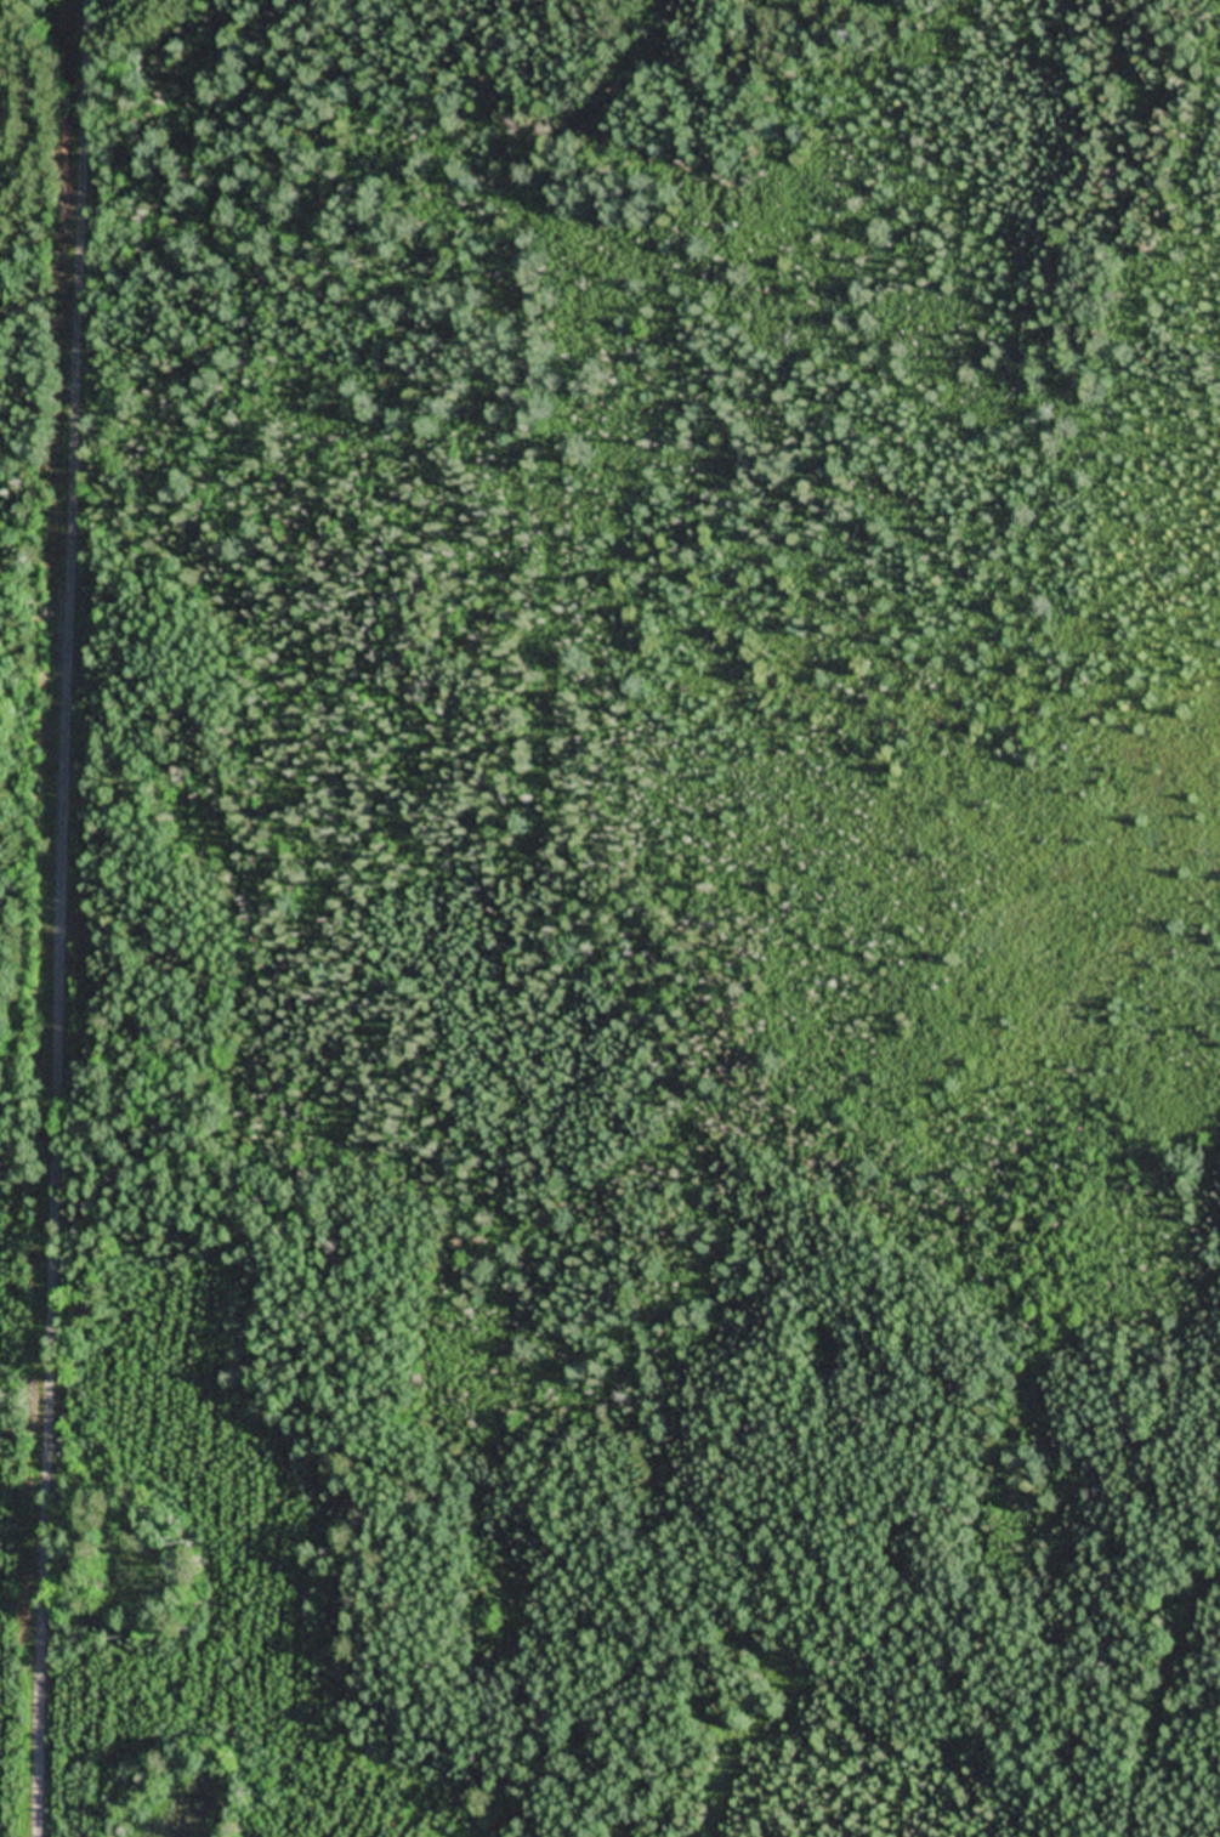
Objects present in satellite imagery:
road: (56, 918)
road: (1170, 1716)

